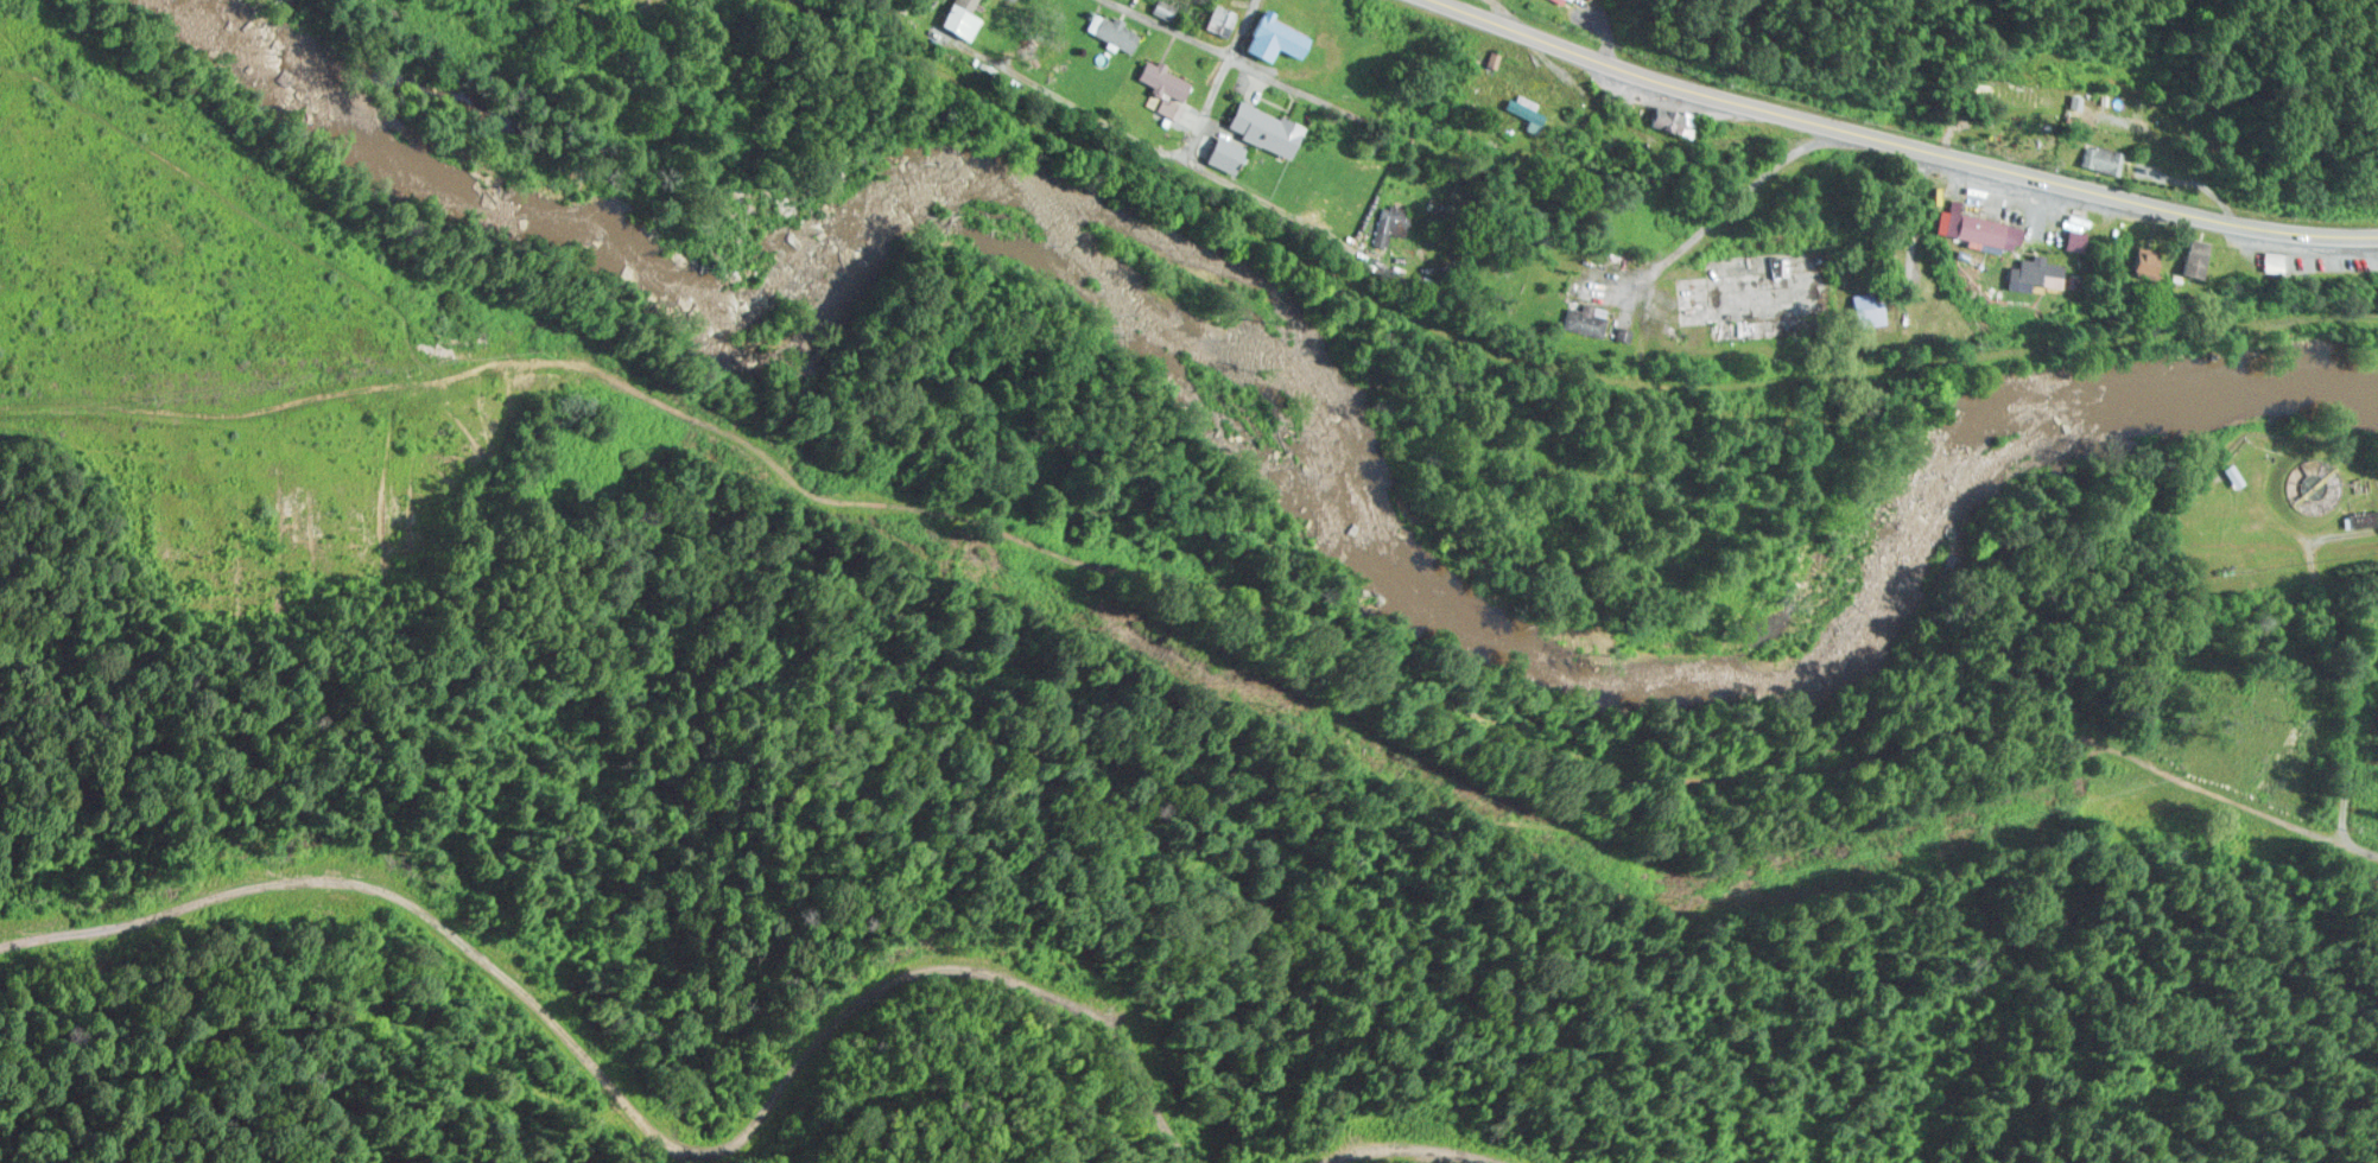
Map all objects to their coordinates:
building: (1561, 0)
building: (958, 17)
building: (1219, 19)
road: (1535, 20)
building: (1109, 30)
road: (1220, 47)
building: (1490, 57)
building: (1158, 77)
building: (1521, 103)
building: (1261, 127)
road: (1909, 132)
road: (1152, 140)
building: (2099, 158)
building: (1981, 231)
building: (2192, 258)
building: (2264, 262)
building: (2031, 273)
building: (1866, 309)
building: (1583, 319)
road: (1549, 363)
river: (1282, 421)
wastewater plant: (2274, 503)
building: (2361, 514)
road: (2355, 697)
road: (1440, 742)

